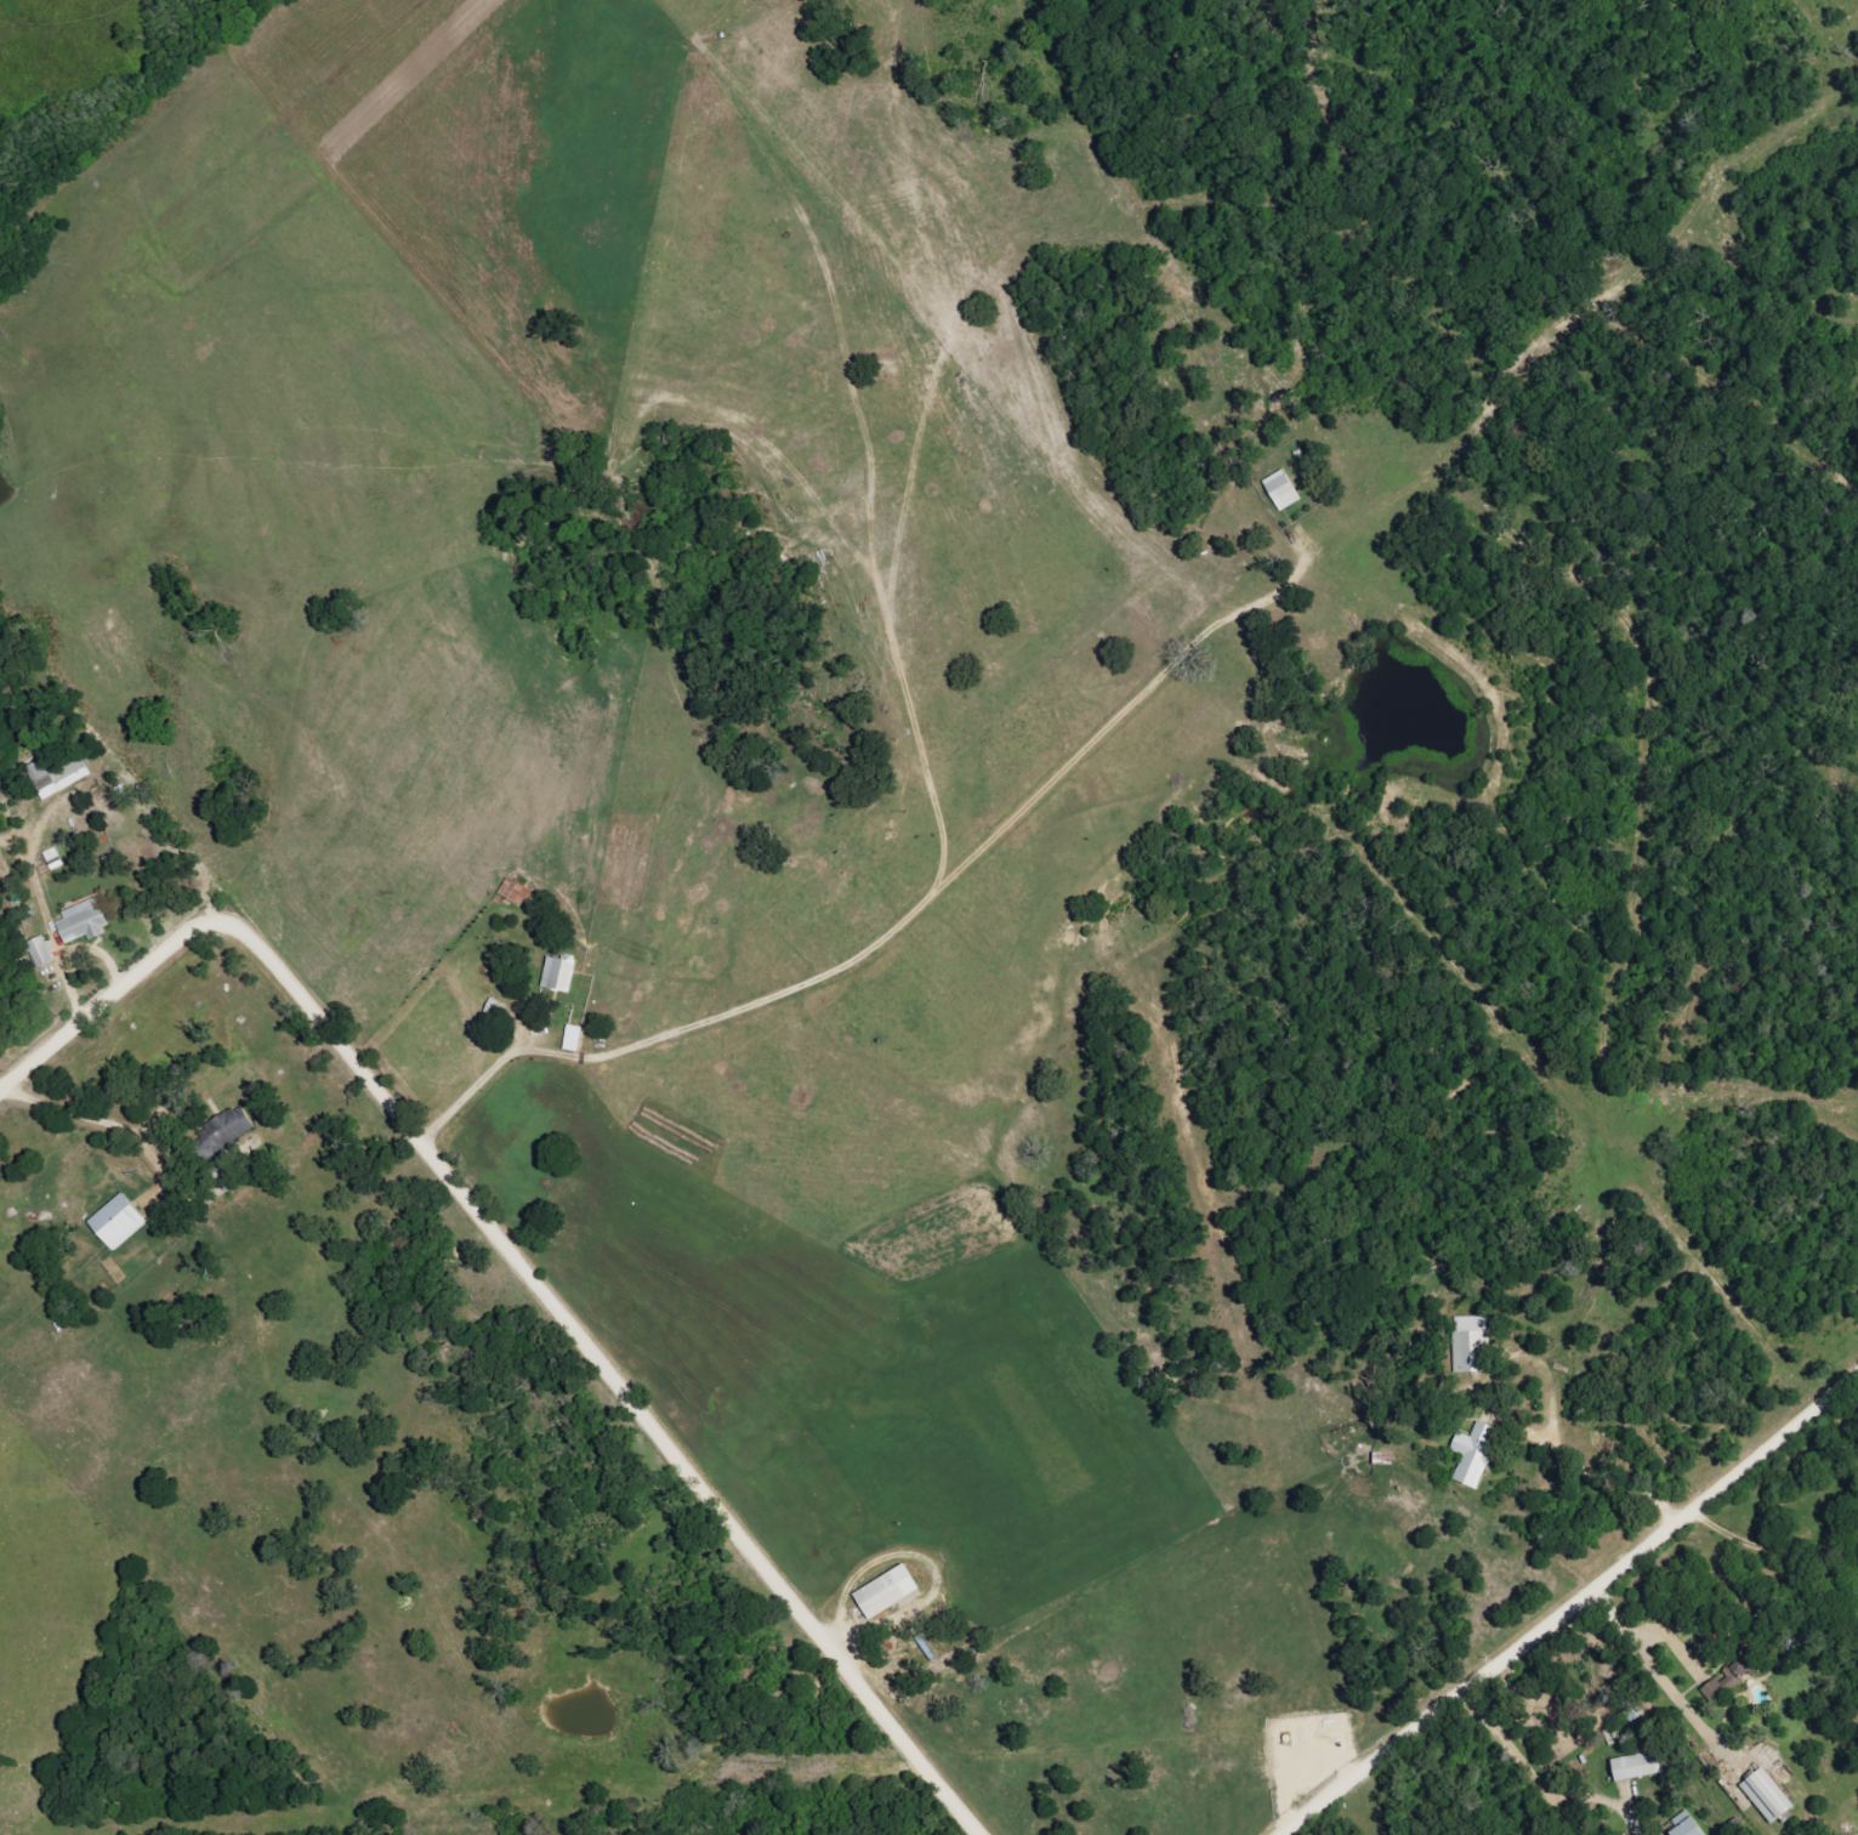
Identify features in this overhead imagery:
building: (1280, 490)
building: (57, 777)
building: (53, 859)
building: (513, 892)
building: (81, 921)
building: (40, 951)
building: (557, 975)
road: (488, 1083)
road: (0, 1089)
road: (98, 1107)
building: (227, 1127)
building: (115, 1222)
road: (522, 1261)
building: (1470, 1343)
road: (1607, 1435)
building: (1472, 1454)
building: (885, 1592)
road: (1573, 1609)
road: (1680, 1649)
building: (1735, 1670)
building: (1635, 1767)
building: (1765, 1796)
building: (1682, 1827)

